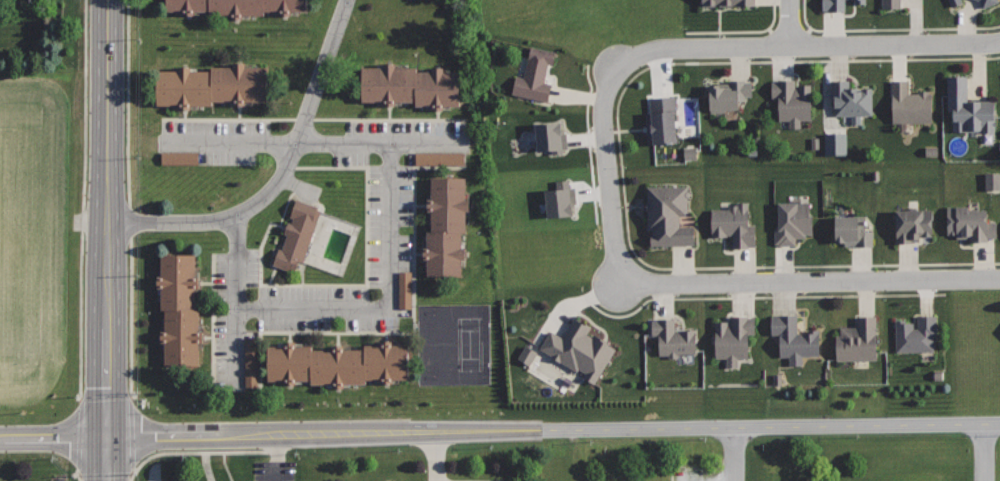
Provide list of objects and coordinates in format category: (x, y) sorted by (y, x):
building: (860, 1)
building: (955, 1)
building: (729, 2)
building: (988, 2)
building: (891, 3)
building: (833, 5)
building: (234, 8)
road: (789, 23)
road: (889, 29)
road: (696, 47)
building: (535, 74)
building: (211, 86)
building: (409, 86)
building: (728, 93)
building: (851, 98)
building: (793, 100)
building: (910, 103)
building: (967, 107)
building: (662, 119)
building: (545, 138)
parking lot: (214, 141)
road: (232, 142)
building: (832, 144)
building: (438, 156)
building: (176, 158)
road: (620, 163)
road: (280, 177)
building: (989, 181)
road: (130, 196)
building: (554, 200)
building: (669, 216)
road: (107, 218)
building: (793, 221)
building: (969, 223)
building: (735, 224)
building: (445, 225)
building: (913, 225)
building: (852, 231)
building: (295, 234)
road: (389, 255)
parking lot: (235, 258)
road: (584, 277)
road: (809, 279)
building: (405, 290)
road: (236, 301)
building: (177, 309)
building: (916, 334)
building: (733, 337)
building: (673, 338)
building: (794, 338)
building: (858, 340)
park: (453, 344)
building: (579, 349)
building: (524, 356)
building: (253, 361)
building: (335, 364)
road: (500, 431)
traffic signals: (107, 438)
road: (107, 459)

